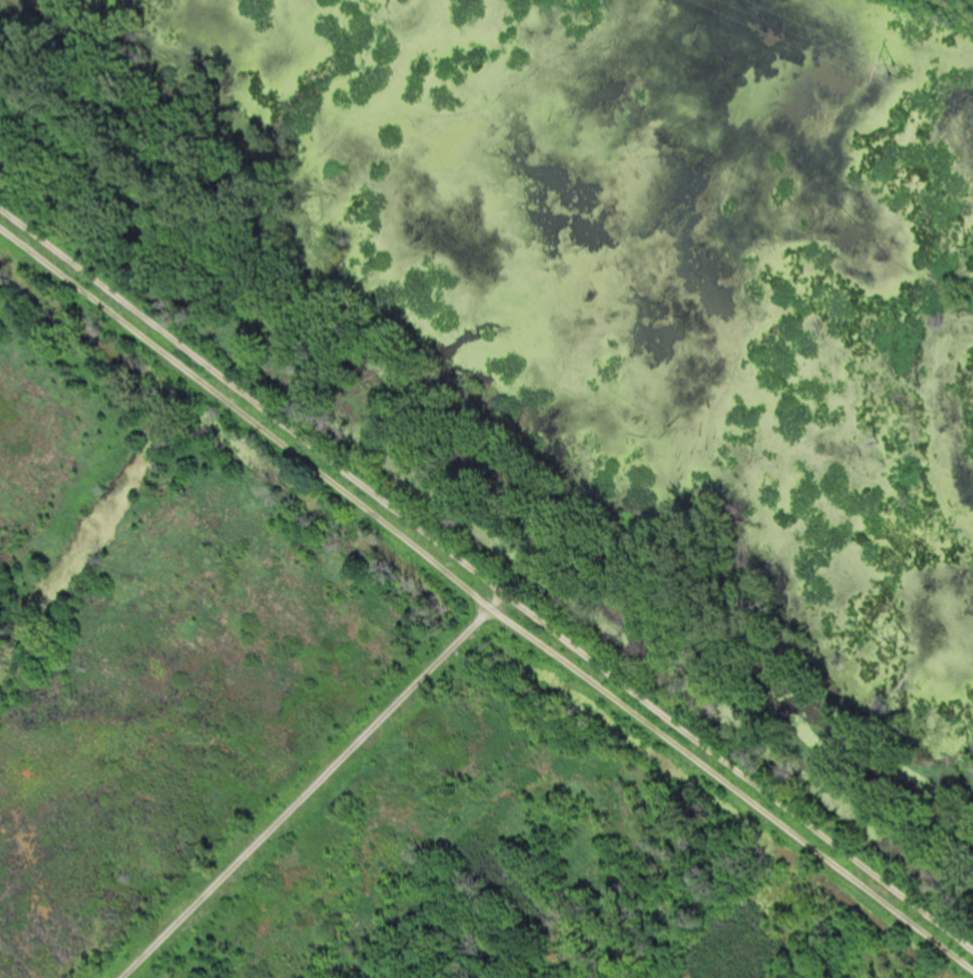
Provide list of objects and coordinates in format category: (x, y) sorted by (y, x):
power tower: (893, 61)
river: (490, 474)
road: (485, 586)
road: (313, 788)

